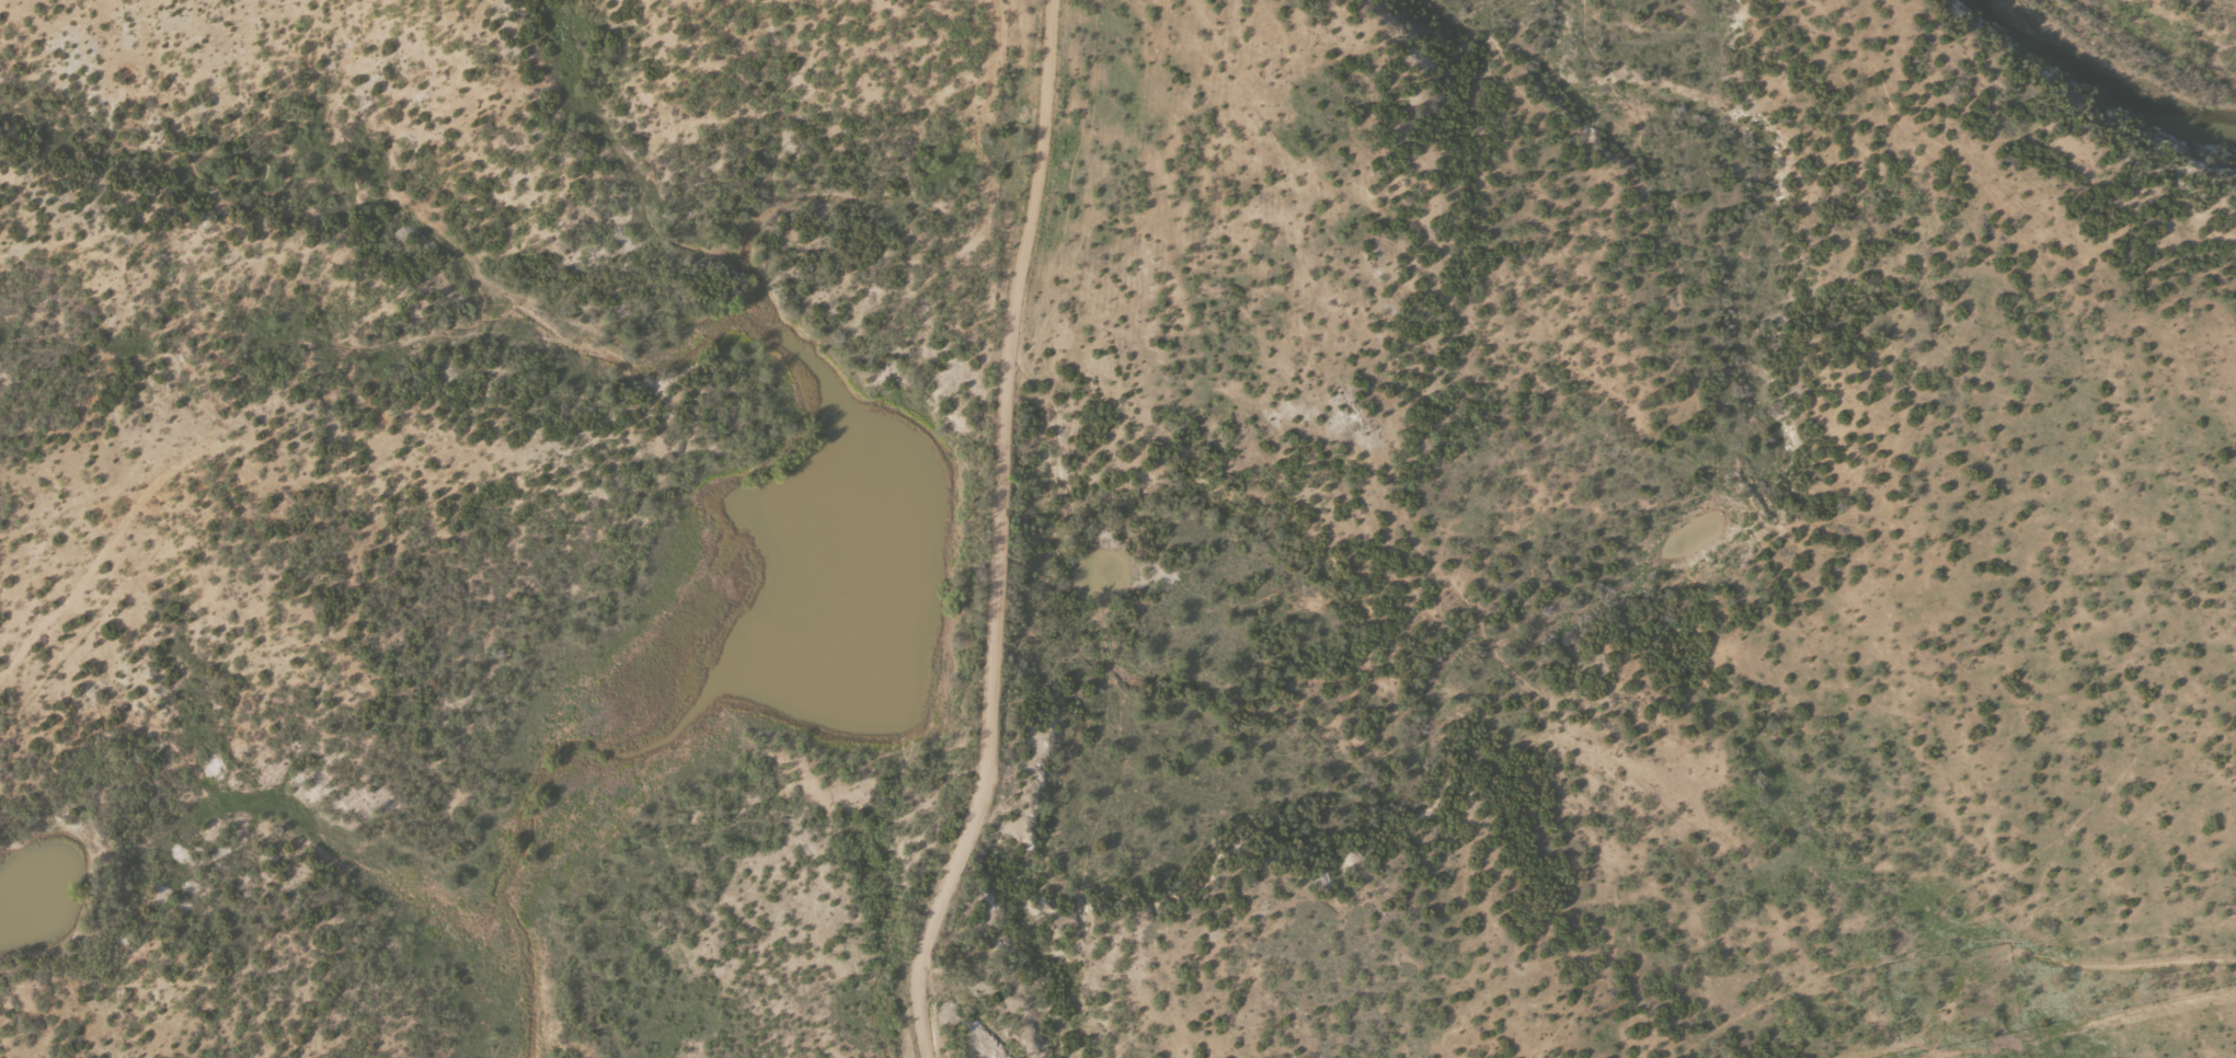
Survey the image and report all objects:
river: (2102, 82)
road: (1000, 536)

